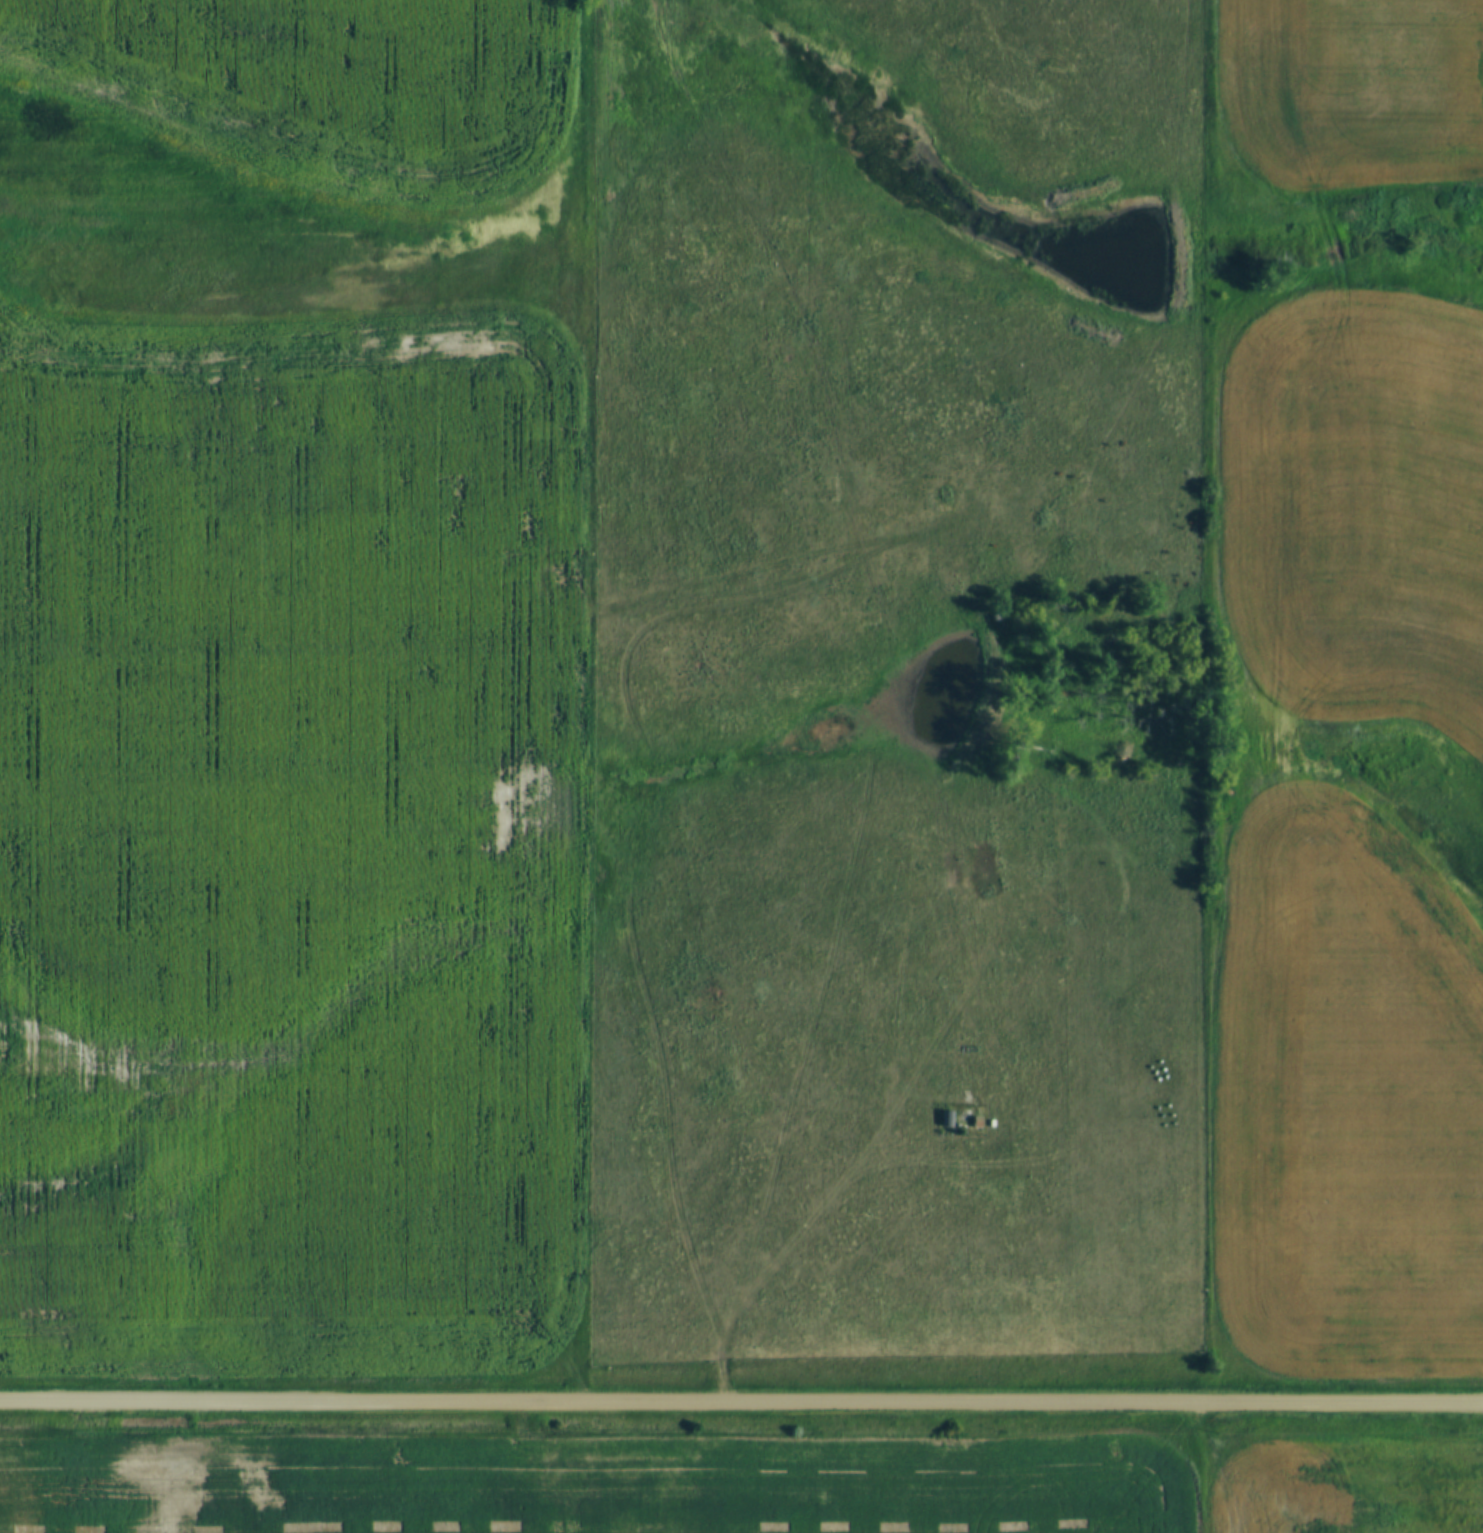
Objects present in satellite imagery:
road: (741, 1405)

